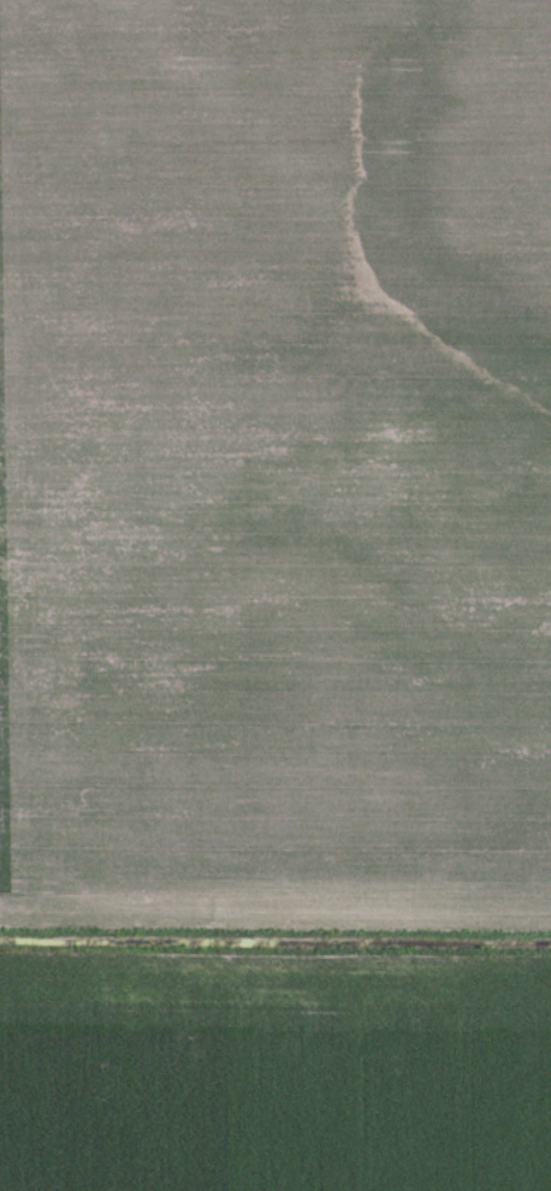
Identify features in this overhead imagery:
crop: (274, 456)
crop: (274, 1069)

